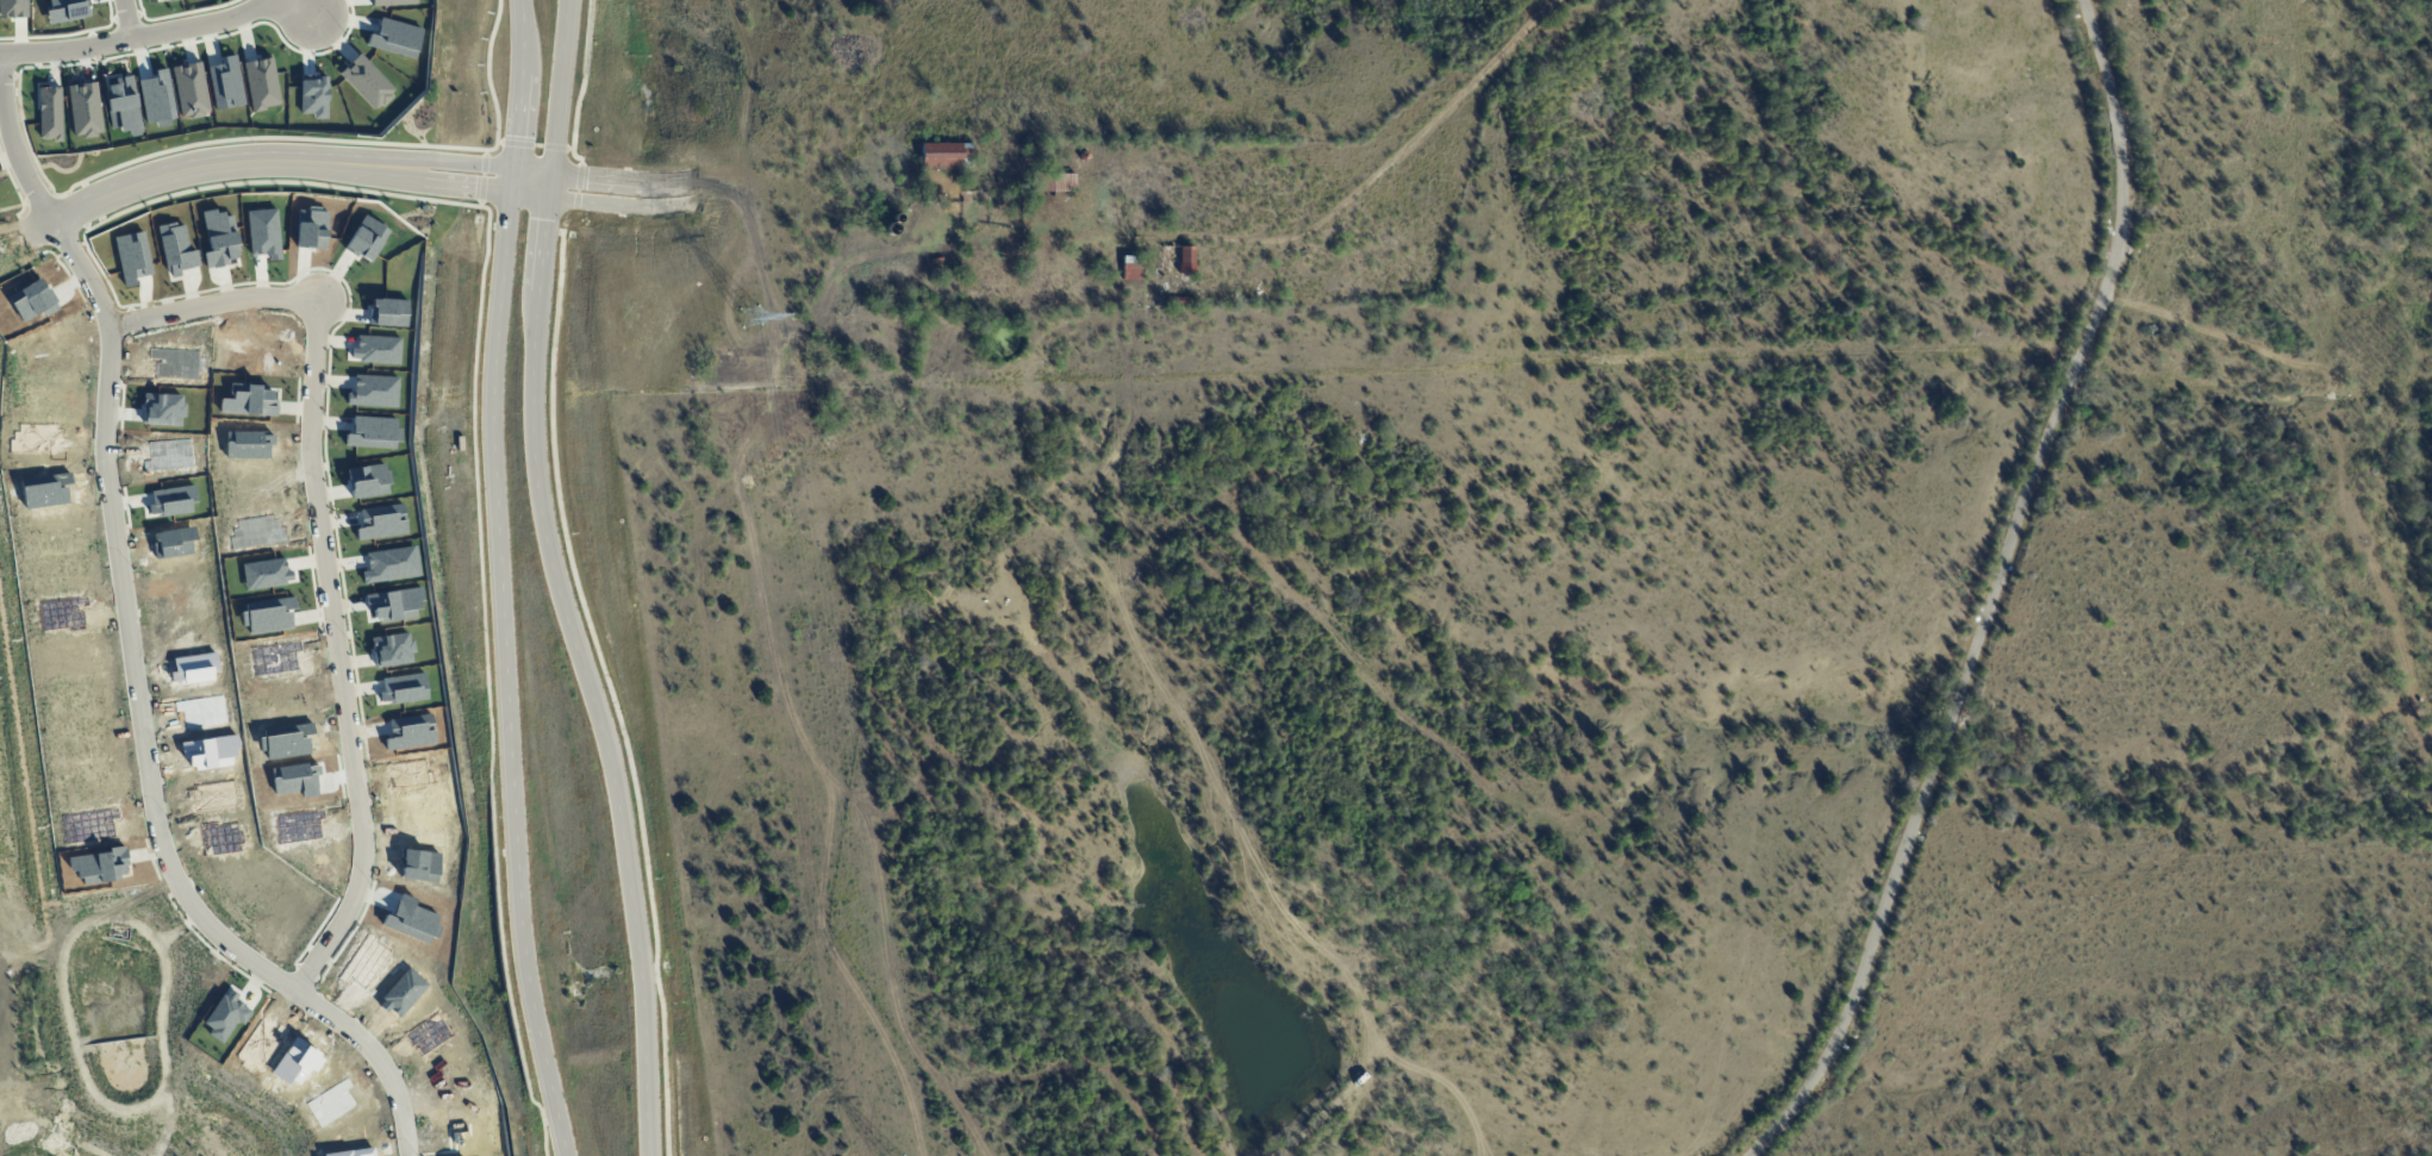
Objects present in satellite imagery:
road: (307, 7)
road: (126, 18)
road: (133, 36)
building: (85, 110)
building: (943, 156)
road: (473, 164)
road: (191, 171)
road: (622, 181)
building: (1050, 182)
road: (470, 189)
road: (694, 193)
building: (915, 196)
road: (623, 205)
building: (1142, 218)
road: (1054, 233)
building: (1176, 260)
building: (1130, 268)
road: (220, 298)
building: (1178, 301)
building: (918, 307)
power tower: (750, 321)
building: (368, 480)
building: (381, 521)
building: (173, 542)
building: (391, 564)
building: (263, 573)
road: (499, 580)
road: (560, 580)
road: (1995, 593)
building: (394, 604)
building: (267, 614)
road: (138, 639)
building: (392, 648)
road: (347, 650)
building: (193, 668)
building: (403, 688)
building: (411, 731)
building: (410, 773)

